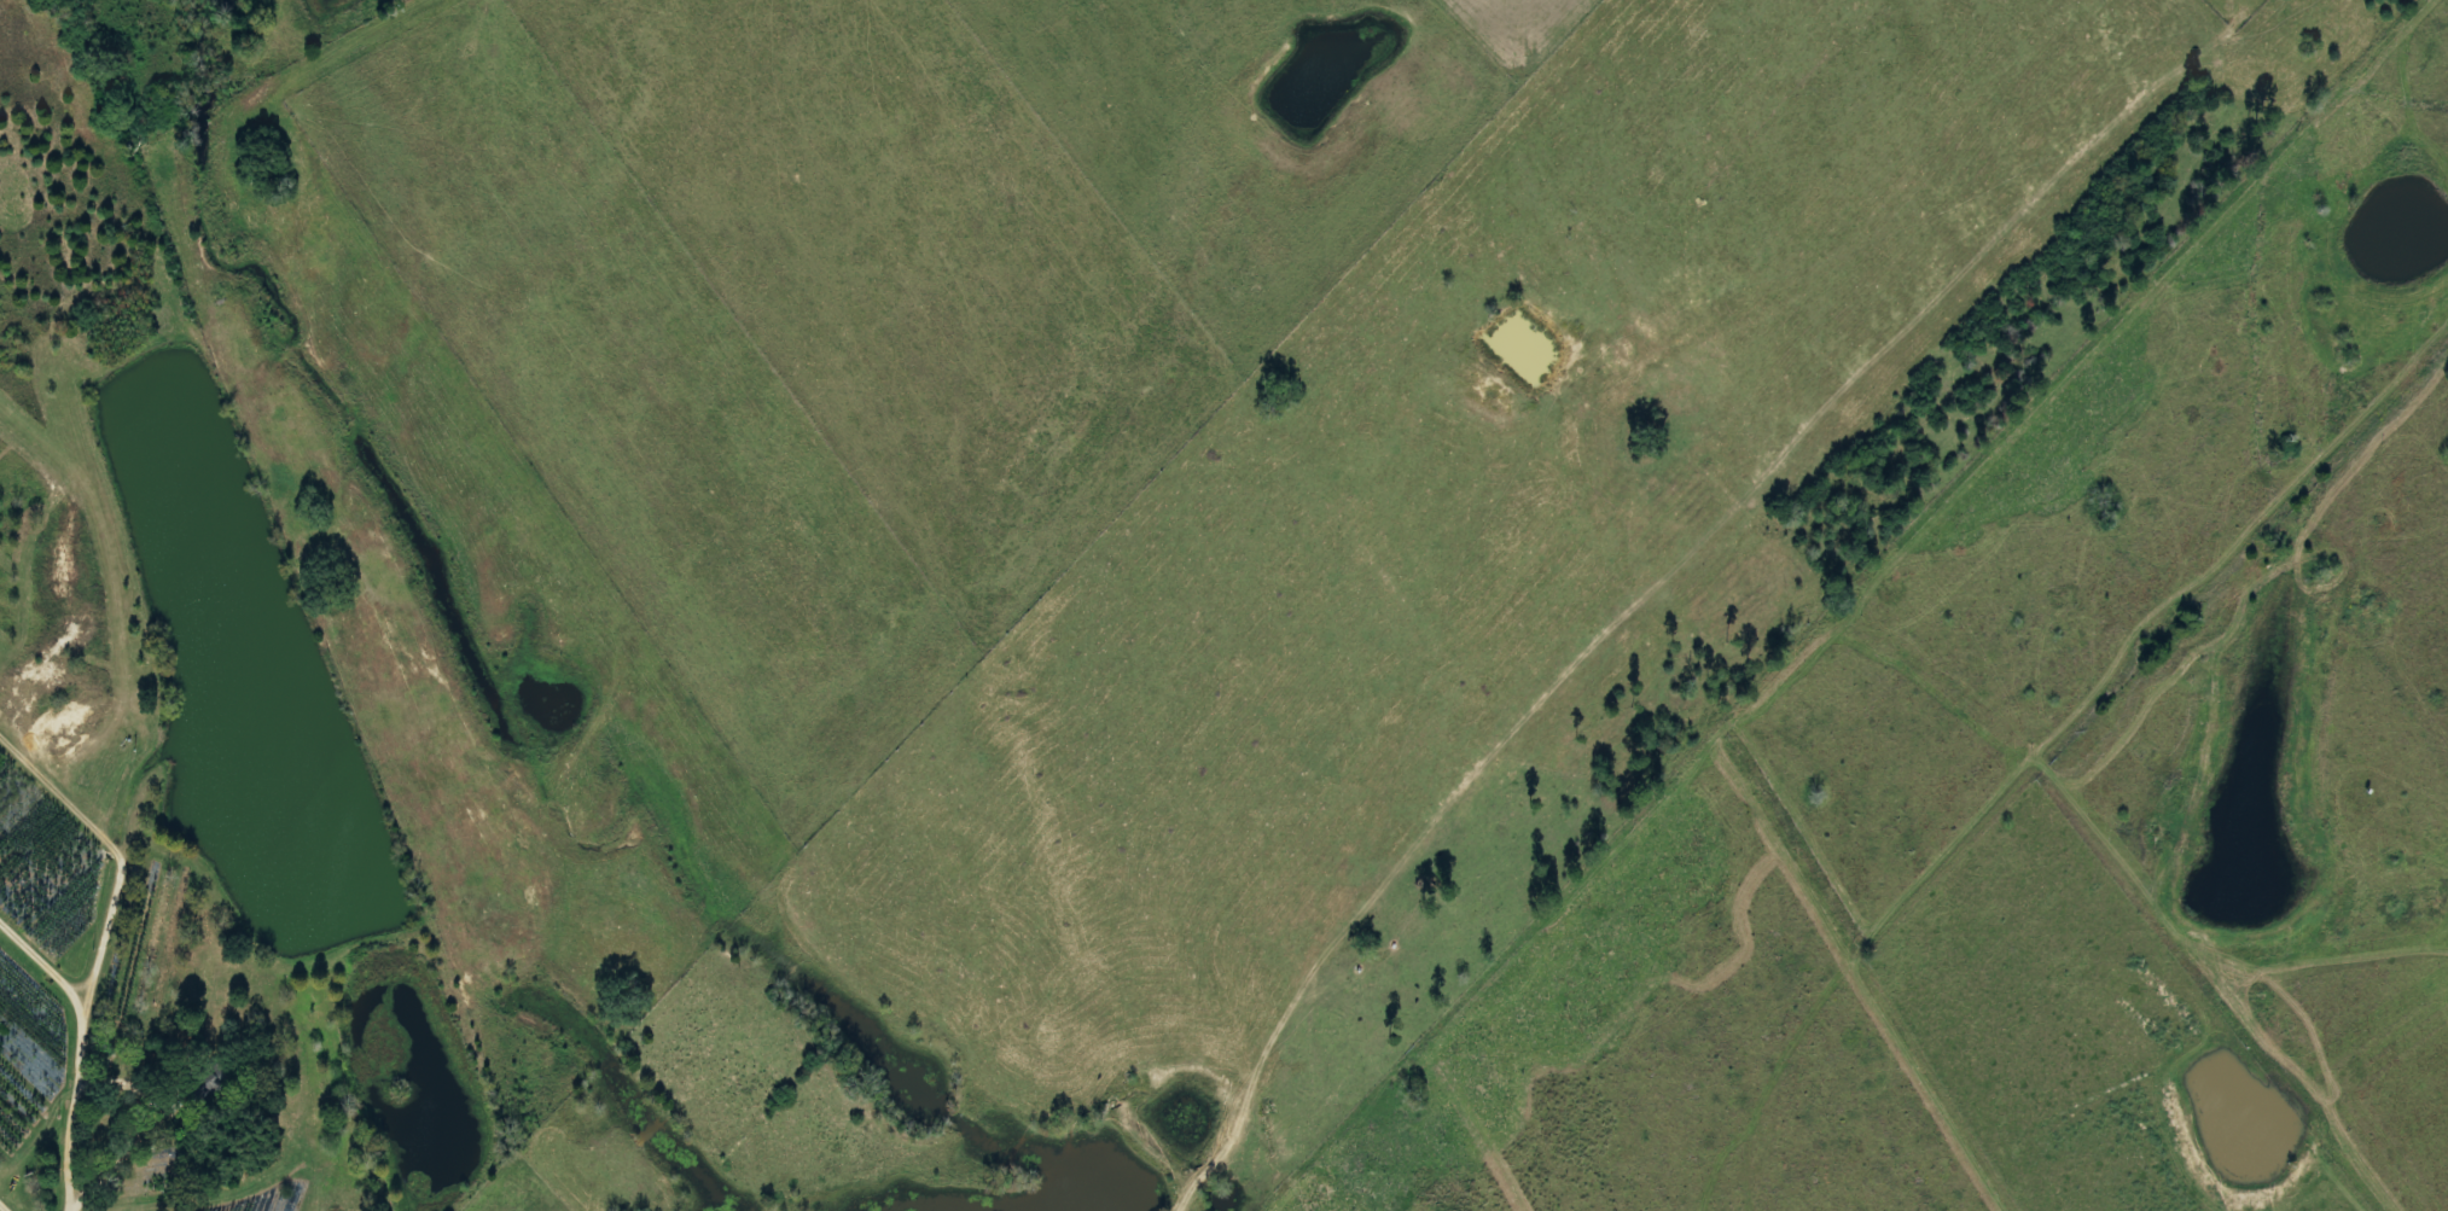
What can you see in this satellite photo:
road: (72, 989)
building: (199, 1085)
road: (118, 1158)
road: (12, 1199)
road: (74, 1200)

